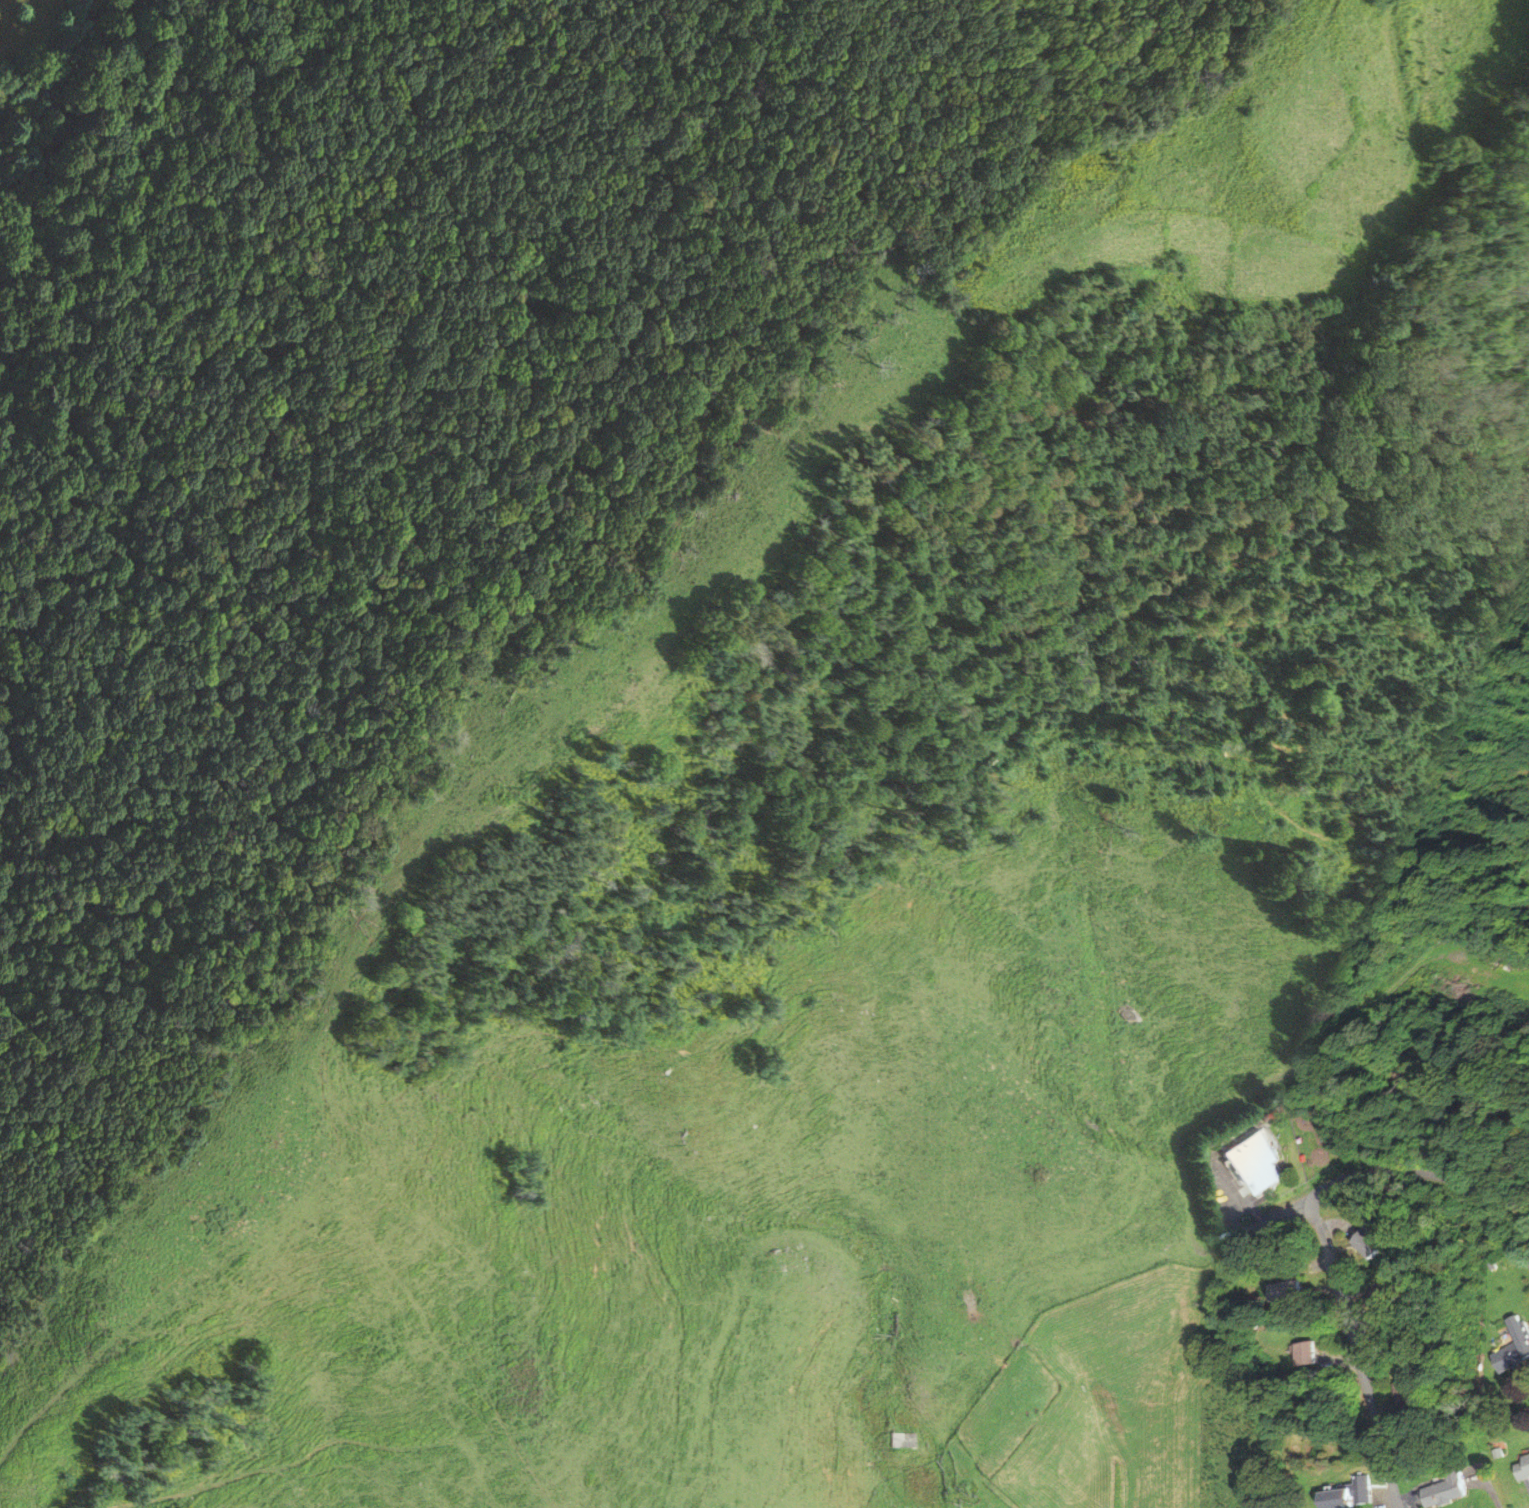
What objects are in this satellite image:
building: (1122, 1014)
building: (1254, 1162)
road: (1177, 1206)
building: (1360, 1243)
building: (1283, 1291)
building: (1377, 1299)
building: (1512, 1346)
building: (1302, 1354)
building: (1403, 1391)
building: (1523, 1465)
building: (1360, 1489)
building: (1442, 1491)
building: (1332, 1499)

